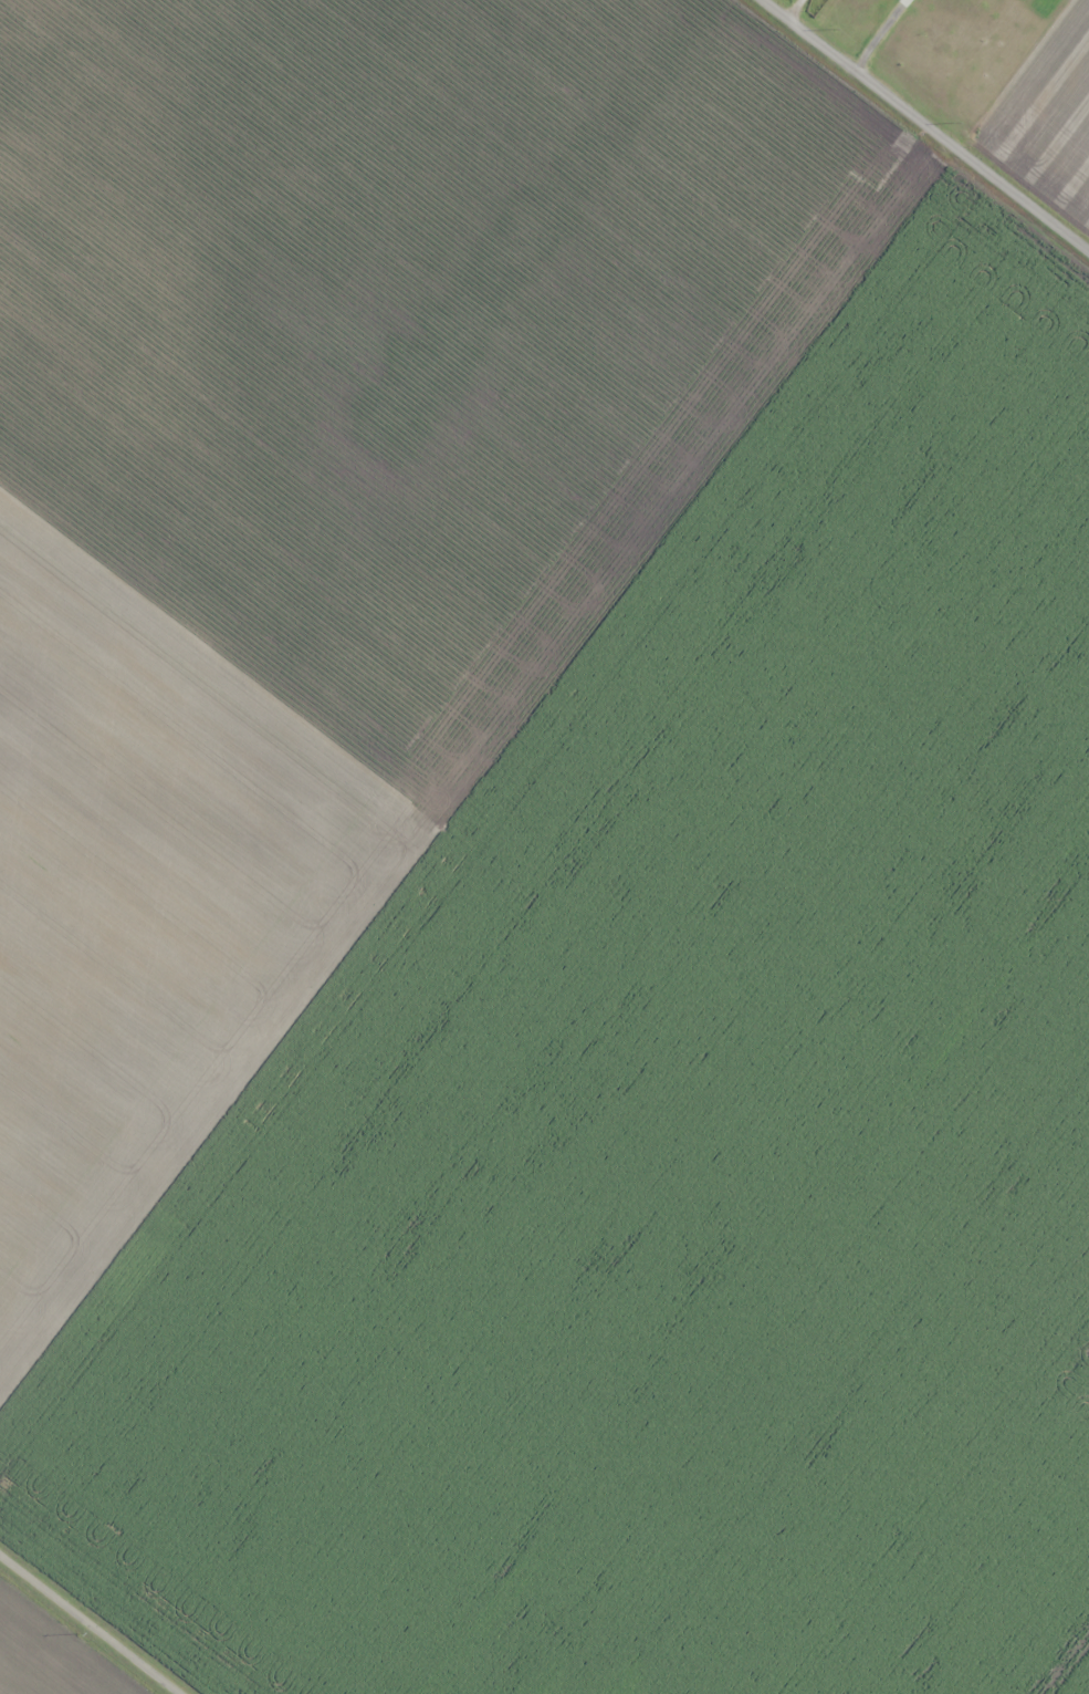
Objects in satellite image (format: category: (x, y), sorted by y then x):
road: (917, 132)
road: (84, 1629)

